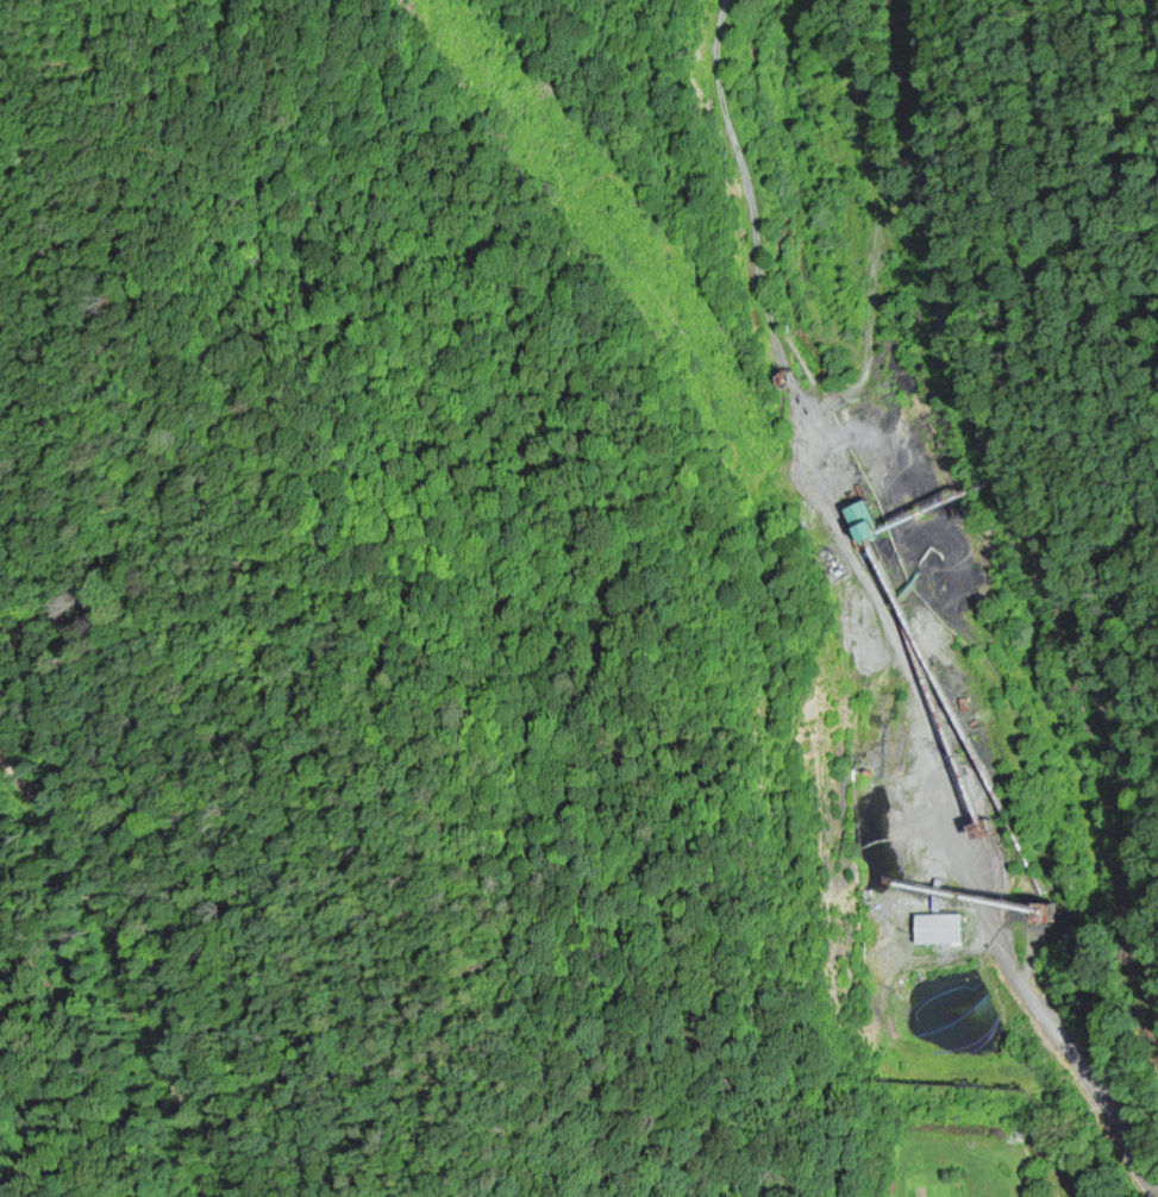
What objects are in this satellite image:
road: (880, 227)
road: (1013, 534)
road: (872, 614)
quarry: (907, 760)
building: (945, 933)

